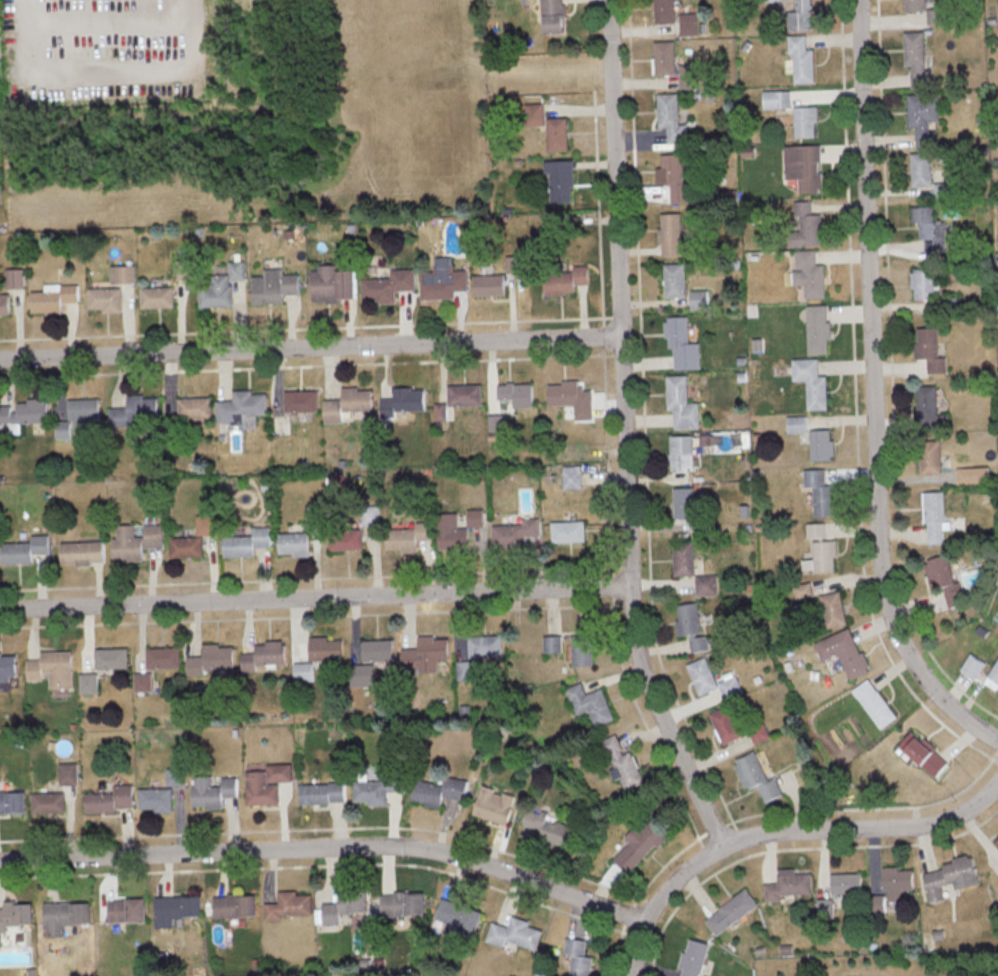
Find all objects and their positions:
building: (914, 5)
building: (664, 11)
building: (553, 16)
building: (800, 16)
building: (936, 16)
road: (107, 20)
building: (688, 23)
building: (664, 57)
building: (916, 58)
building: (802, 59)
road: (102, 72)
building: (688, 76)
building: (776, 99)
building: (670, 116)
building: (923, 118)
building: (805, 120)
building: (547, 126)
building: (804, 166)
building: (921, 169)
building: (675, 177)
building: (560, 179)
building: (941, 189)
building: (805, 224)
building: (930, 228)
building: (670, 234)
building: (185, 269)
building: (122, 273)
building: (809, 273)
building: (14, 277)
building: (674, 279)
building: (443, 280)
building: (566, 280)
building: (923, 282)
building: (333, 283)
building: (489, 284)
building: (388, 285)
building: (222, 286)
building: (274, 286)
building: (157, 296)
building: (53, 297)
building: (106, 299)
building: (699, 299)
building: (4, 304)
building: (817, 328)
building: (681, 343)
road: (310, 347)
building: (929, 348)
building: (811, 382)
road: (872, 392)
building: (517, 393)
building: (465, 394)
building: (571, 397)
building: (301, 400)
building: (403, 400)
building: (681, 402)
building: (348, 403)
building: (195, 407)
building: (242, 408)
building: (929, 408)
building: (85, 412)
building: (136, 412)
building: (24, 413)
building: (497, 422)
building: (797, 423)
building: (63, 429)
road: (625, 432)
building: (820, 444)
building: (681, 452)
building: (930, 456)
building: (972, 474)
building: (572, 476)
building: (820, 491)
building: (683, 502)
building: (371, 514)
building: (934, 515)
building: (316, 517)
building: (475, 517)
building: (207, 524)
building: (568, 530)
building: (452, 532)
building: (515, 532)
building: (408, 537)
building: (346, 539)
building: (136, 540)
building: (247, 542)
building: (295, 543)
building: (187, 546)
building: (25, 549)
building: (819, 549)
building: (82, 552)
building: (683, 557)
building: (944, 579)
building: (707, 583)
building: (803, 589)
road: (315, 598)
building: (832, 608)
building: (692, 625)
building: (552, 644)
building: (485, 645)
building: (326, 647)
building: (378, 649)
building: (581, 649)
building: (843, 651)
building: (426, 654)
building: (265, 656)
building: (112, 657)
building: (164, 657)
building: (212, 658)
building: (972, 665)
building: (7, 666)
building: (53, 668)
building: (465, 669)
building: (304, 671)
building: (363, 674)
building: (702, 675)
building: (992, 676)
building: (144, 681)
building: (89, 683)
building: (730, 686)
building: (590, 703)
building: (874, 703)
building: (725, 724)
building: (759, 732)
building: (923, 753)
building: (621, 763)
building: (68, 773)
building: (176, 776)
building: (756, 776)
building: (266, 782)
building: (374, 789)
building: (439, 790)
building: (214, 792)
building: (322, 792)
building: (110, 799)
building: (156, 799)
building: (12, 801)
building: (48, 802)
building: (494, 804)
building: (546, 825)
road: (782, 830)
building: (996, 842)
building: (638, 846)
road: (328, 848)
building: (950, 877)
building: (897, 881)
building: (846, 882)
building: (787, 884)
building: (877, 902)
building: (403, 903)
building: (235, 905)
building: (289, 905)
building: (345, 905)
building: (824, 907)
building: (176, 909)
building: (127, 910)
building: (731, 911)
building: (16, 914)
building: (460, 915)
building: (65, 916)
building: (514, 934)
building: (577, 957)
building: (693, 957)

